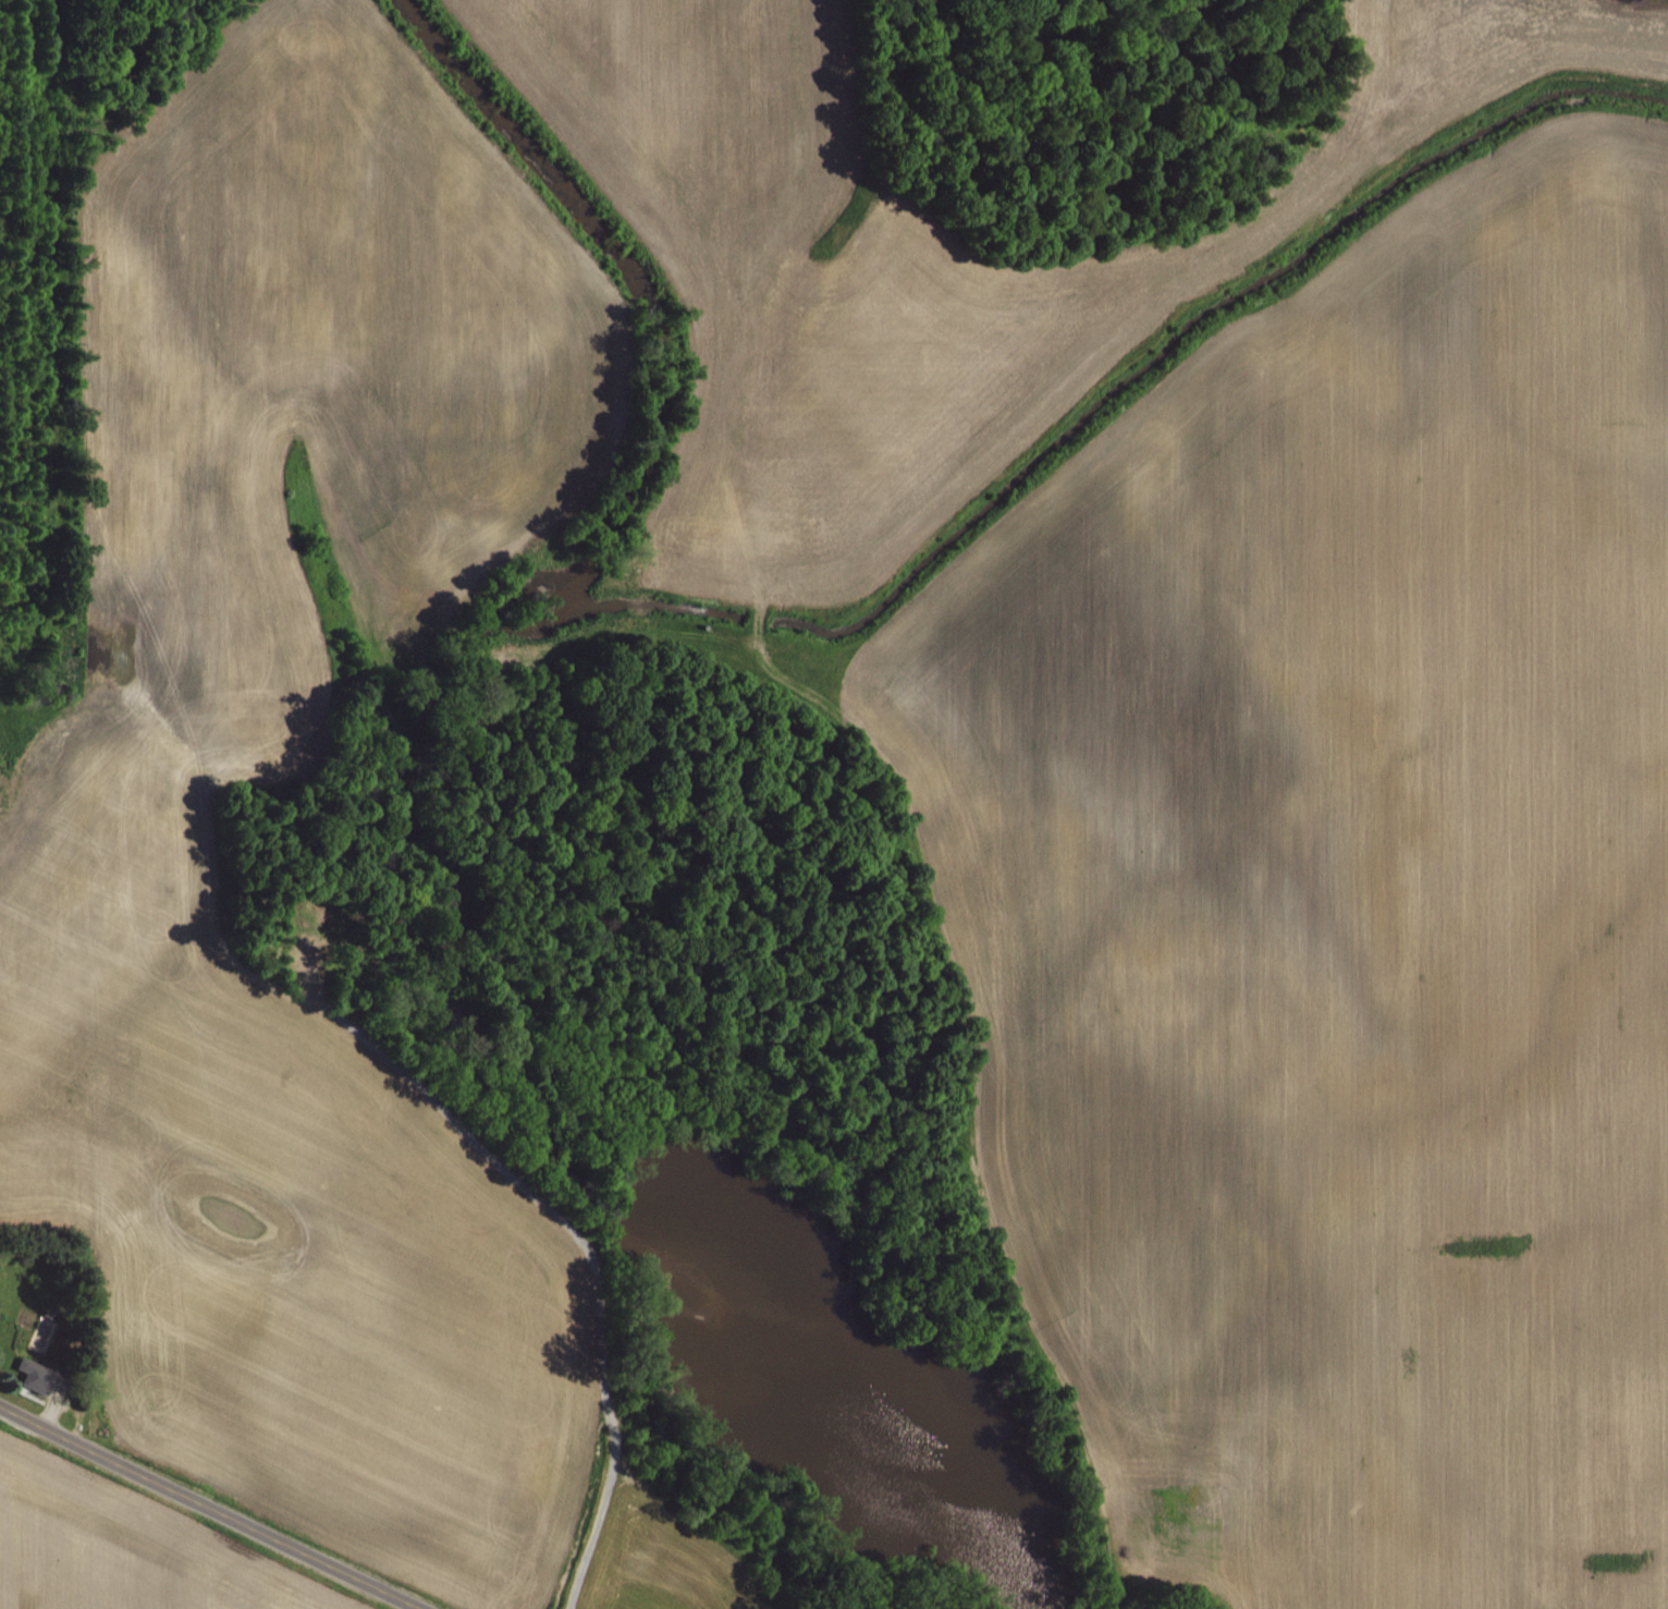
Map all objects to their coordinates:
building: (44, 1375)
road: (211, 1508)

